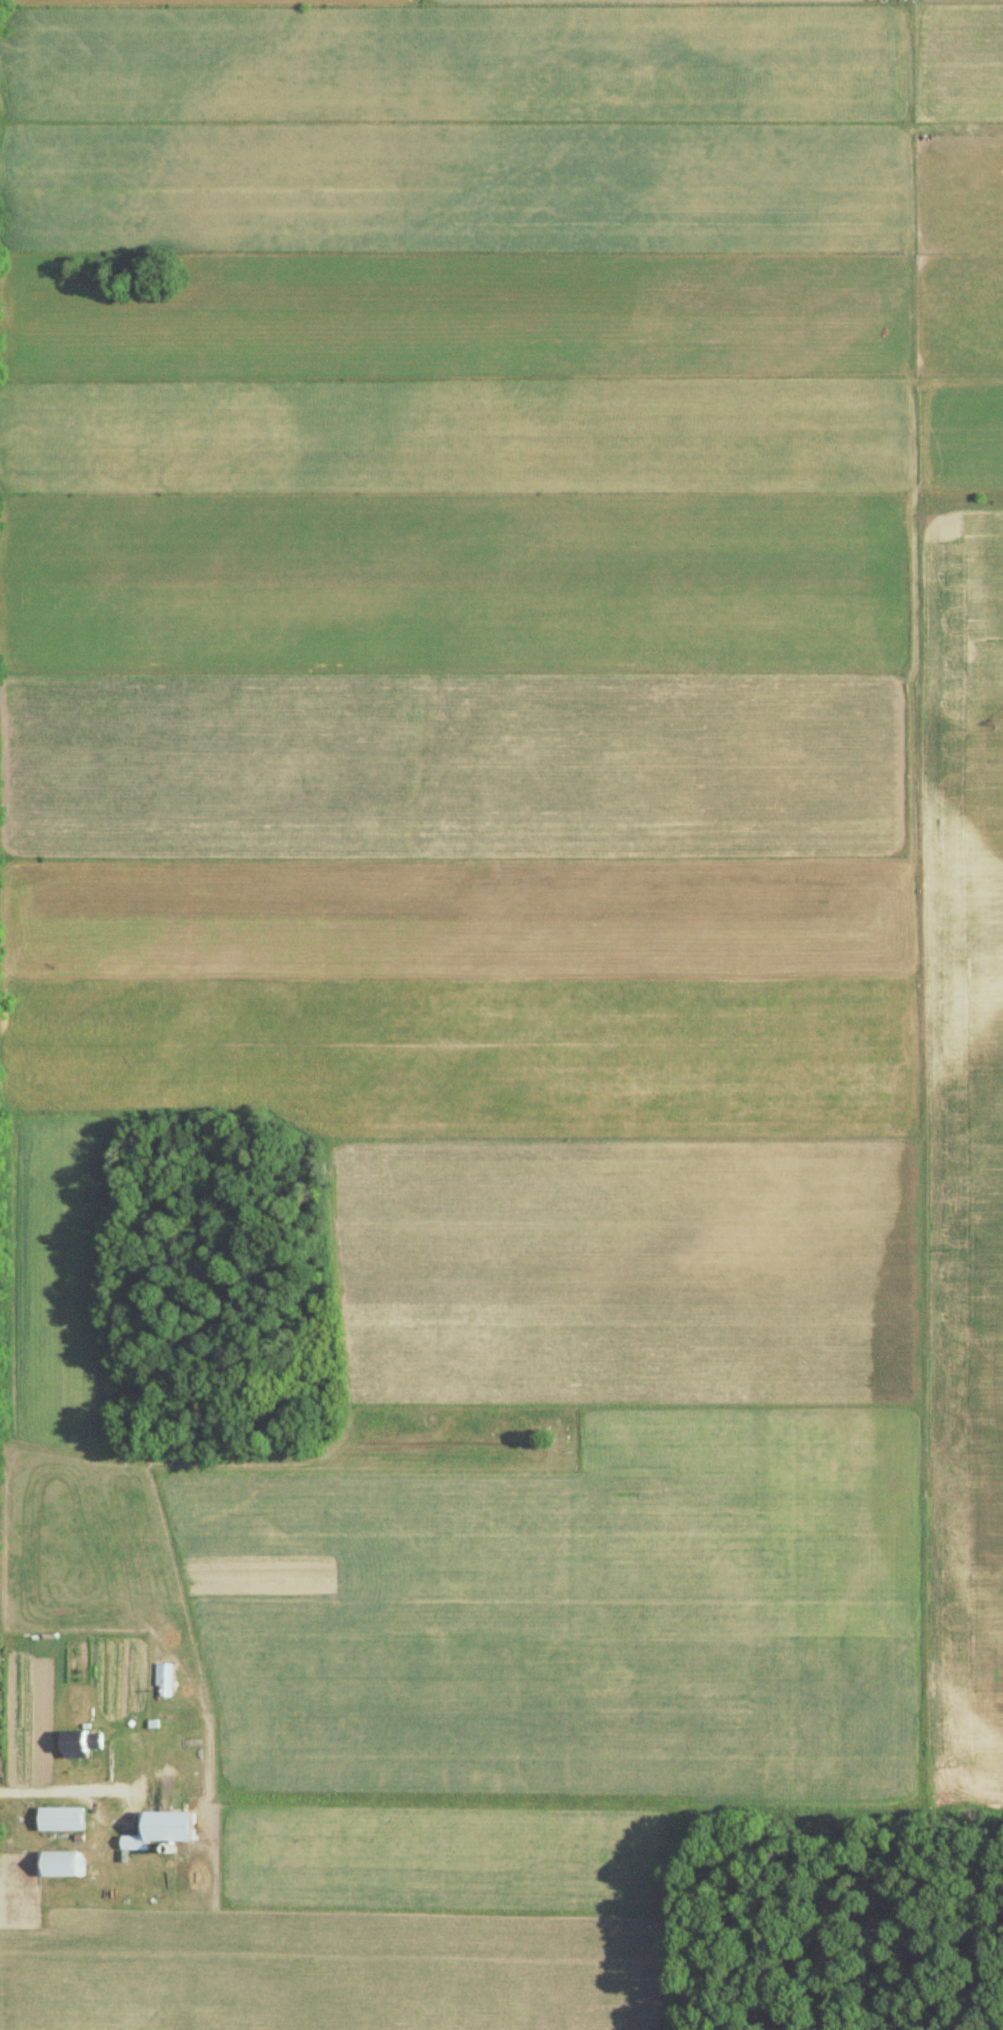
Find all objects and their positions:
building: (76, 1744)
building: (58, 1818)

